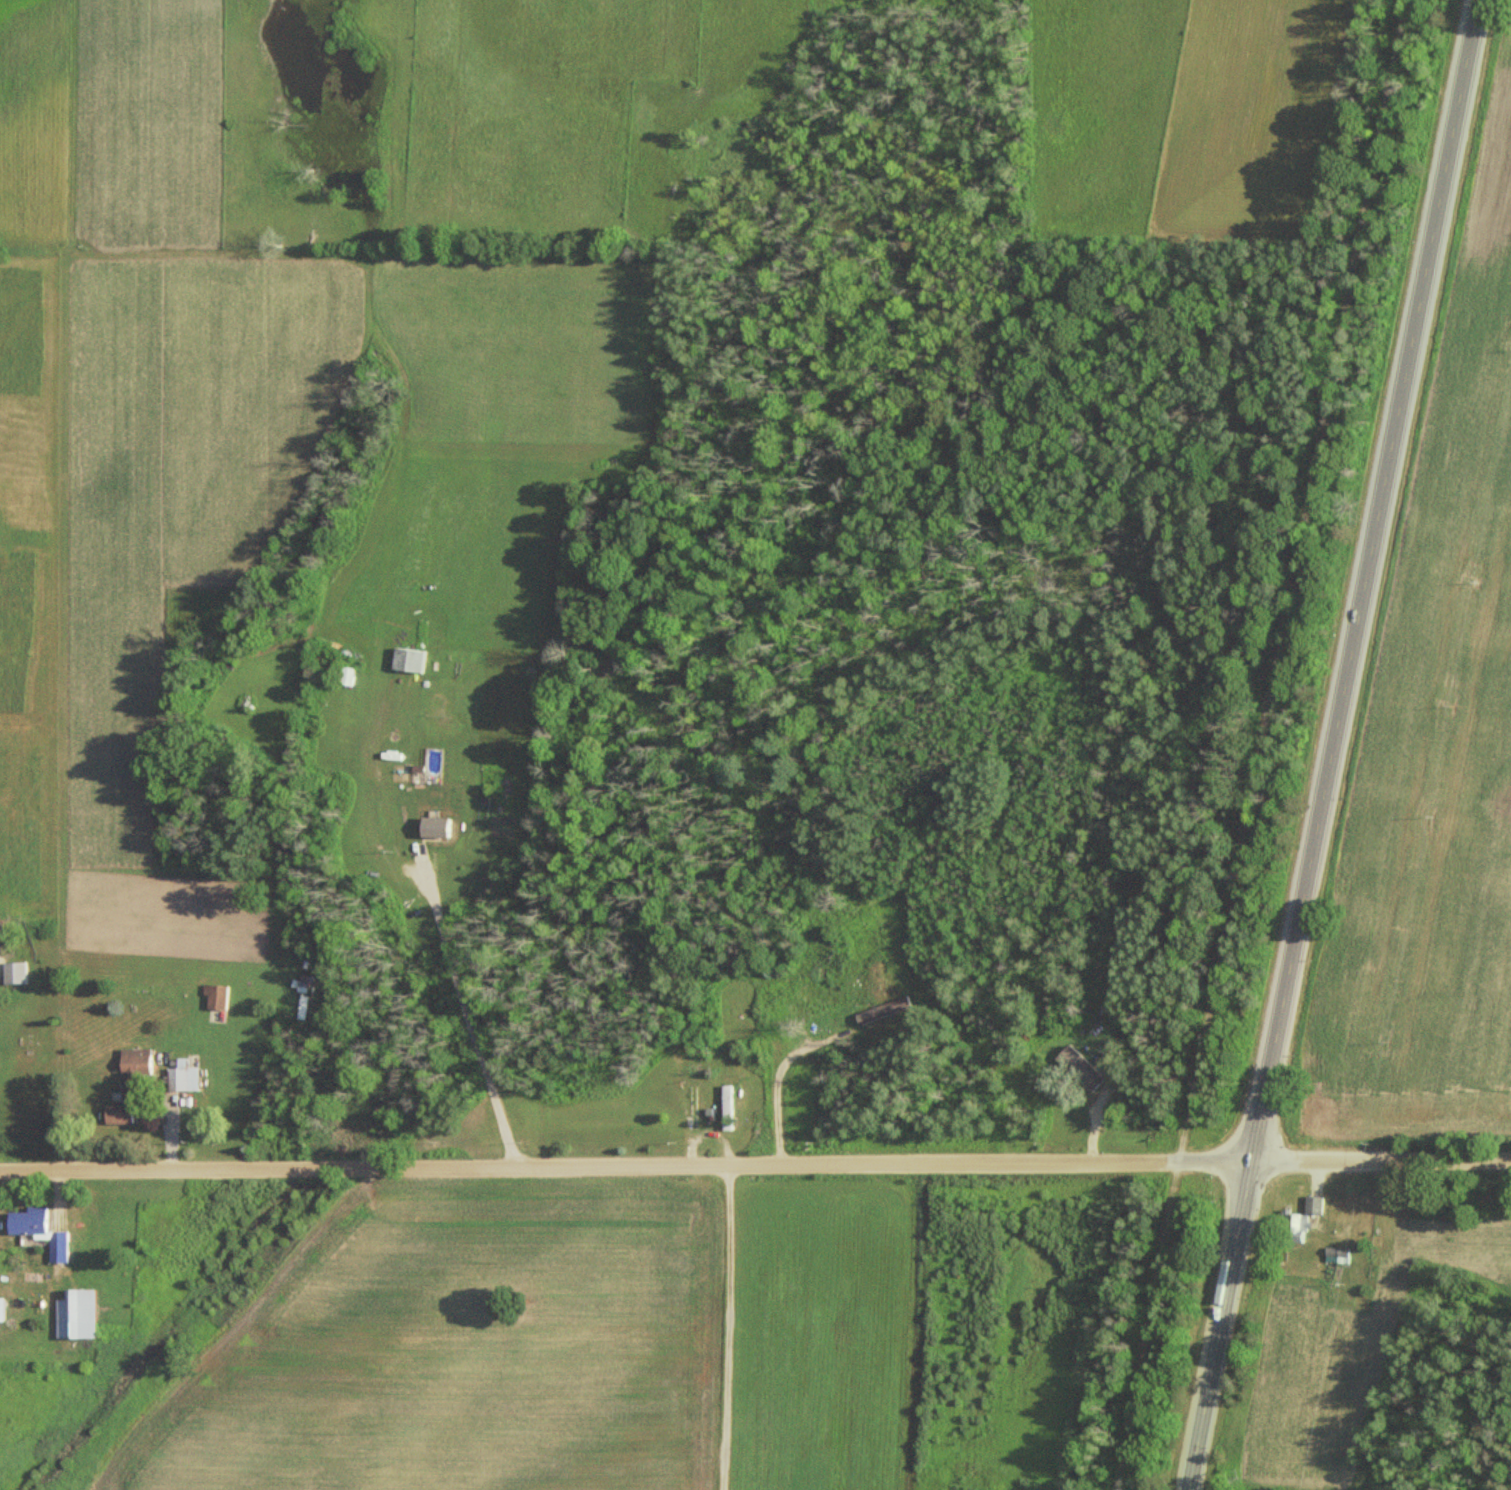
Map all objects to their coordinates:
road: (1365, 582)
building: (404, 660)
building: (343, 676)
road: (1270, 746)
building: (430, 827)
building: (12, 972)
building: (213, 998)
road: (473, 1009)
building: (881, 1011)
building: (1077, 1069)
building: (131, 1073)
building: (180, 1079)
building: (688, 1106)
building: (724, 1108)
building: (116, 1115)
road: (755, 1166)
building: (1304, 1221)
building: (35, 1231)
building: (1335, 1253)
building: (0, 1310)
building: (72, 1315)
road: (718, 1327)
road: (1220, 1327)

